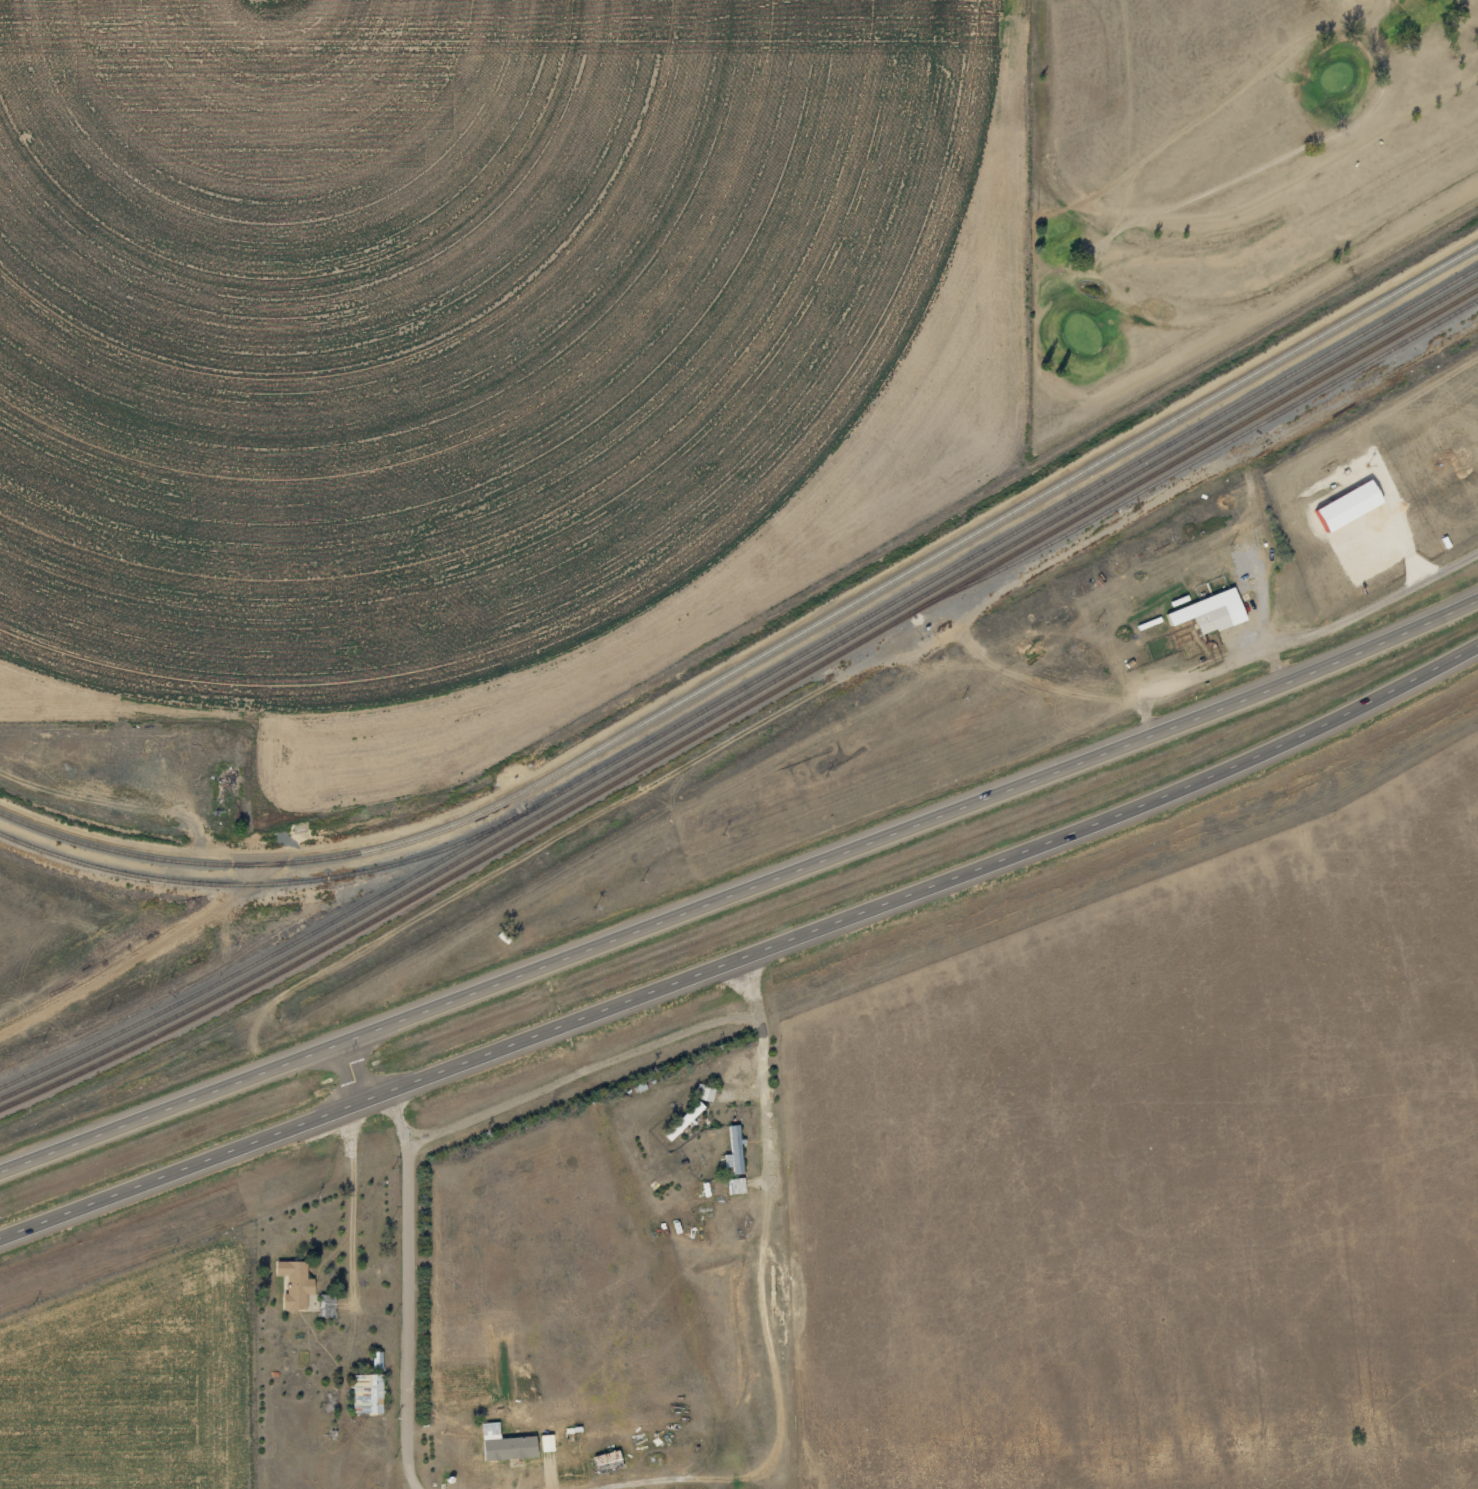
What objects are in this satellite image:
park: (1227, 174)
railway: (1196, 458)
building: (1205, 612)
railway: (765, 653)
railway: (744, 686)
railway: (744, 698)
railway: (744, 707)
railway: (266, 883)
road: (741, 890)
road: (745, 959)
railway: (96, 1068)
building: (705, 1092)
road: (835, 1117)
building: (735, 1148)
building: (298, 1284)
road: (325, 1302)
road: (69, 1351)
building: (369, 1393)
building: (511, 1448)

